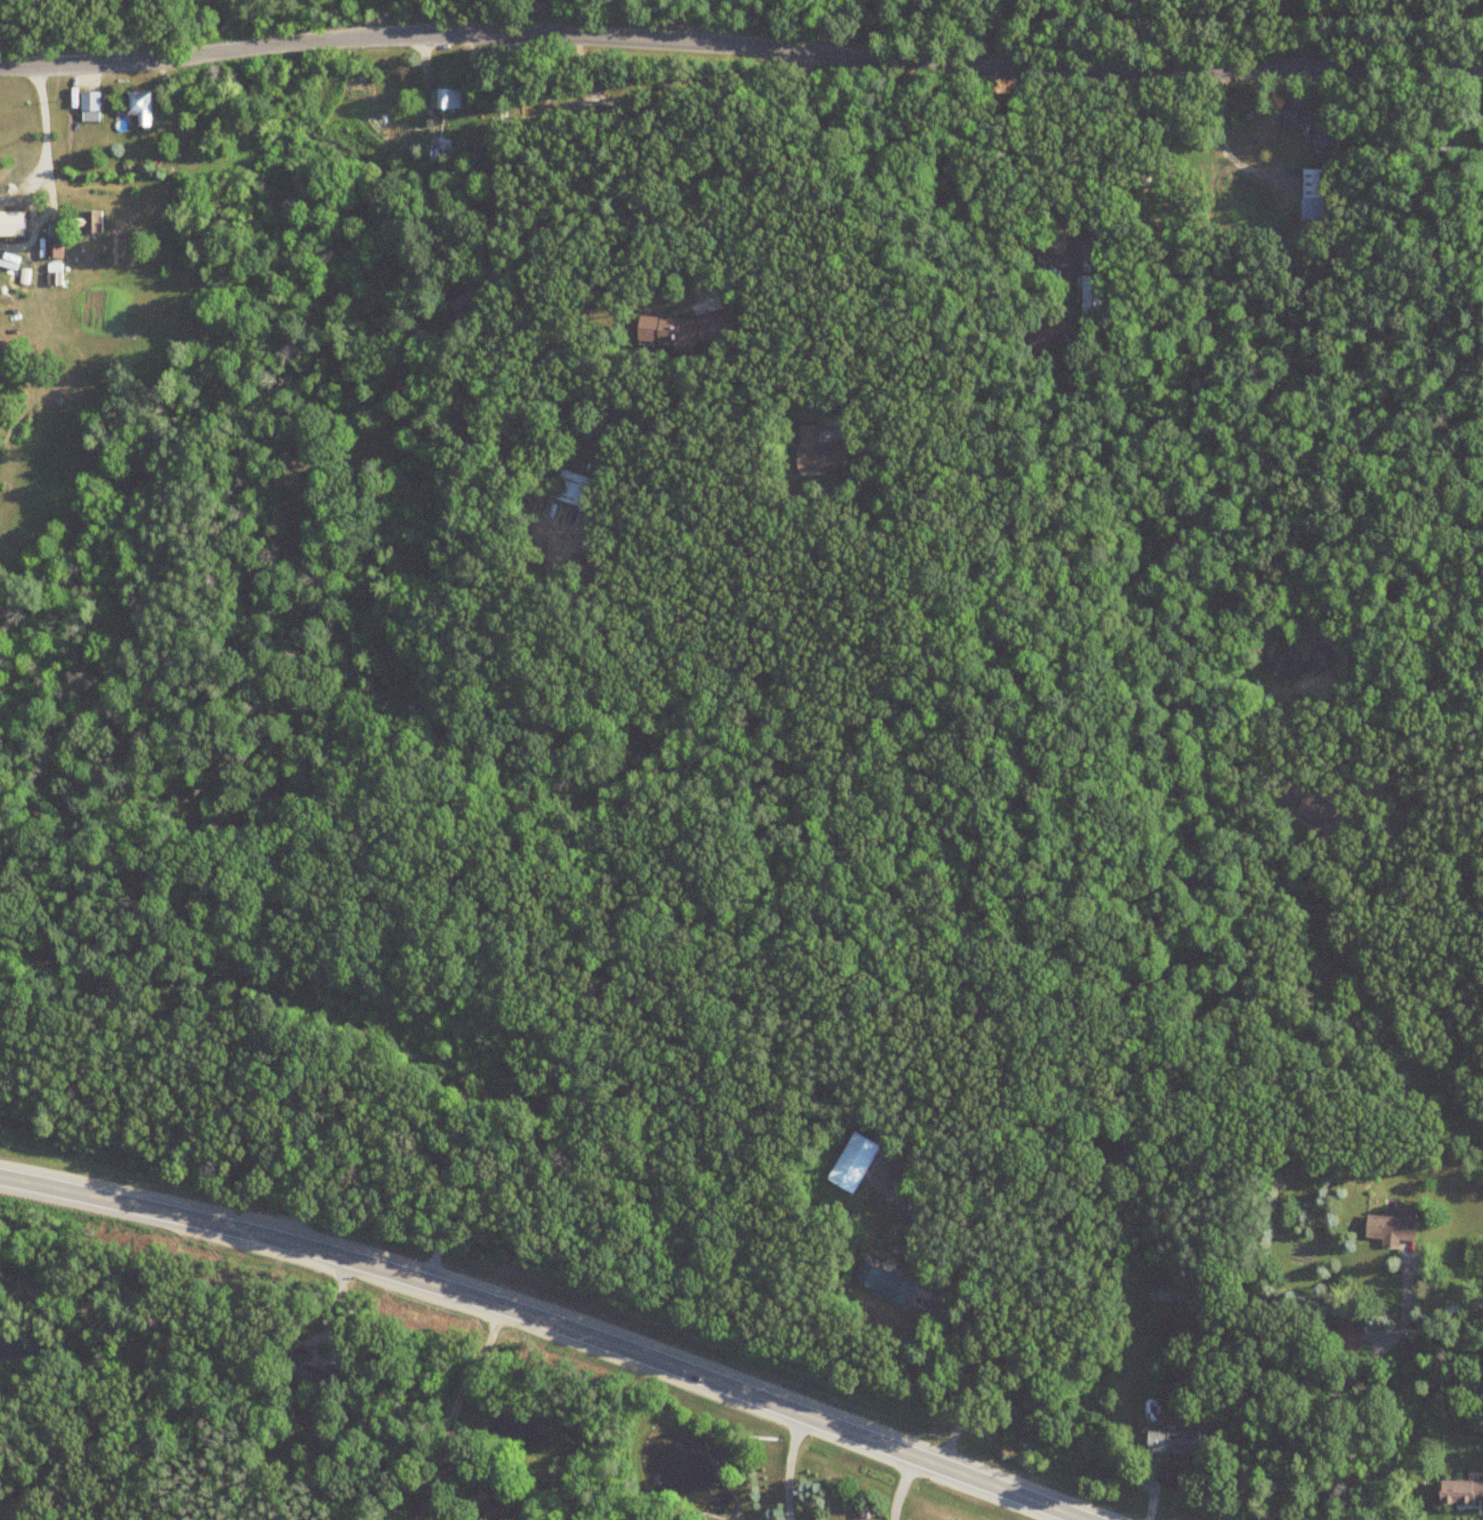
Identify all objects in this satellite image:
road: (20, 8)
road: (990, 34)
road: (1440, 34)
road: (740, 47)
building: (451, 99)
building: (93, 107)
building: (144, 107)
building: (1313, 127)
building: (440, 143)
road: (1222, 145)
building: (1142, 177)
building: (1311, 194)
road: (501, 218)
road: (720, 222)
building: (92, 223)
building: (13, 224)
road: (874, 226)
road: (1025, 228)
road: (38, 246)
building: (55, 255)
building: (1091, 295)
building: (468, 302)
building: (686, 330)
building: (1040, 334)
road: (1149, 401)
building: (821, 453)
building: (573, 488)
building: (433, 1157)
building: (851, 1161)
building: (1391, 1226)
road: (436, 1230)
building: (881, 1283)
road: (548, 1324)
road: (960, 1334)
building: (1348, 1336)
building: (1408, 1348)
building: (318, 1377)
road: (1341, 1387)
road: (459, 1392)
building: (1172, 1442)
road: (790, 1466)
road: (898, 1486)
building: (1460, 1492)
building: (502, 1502)

